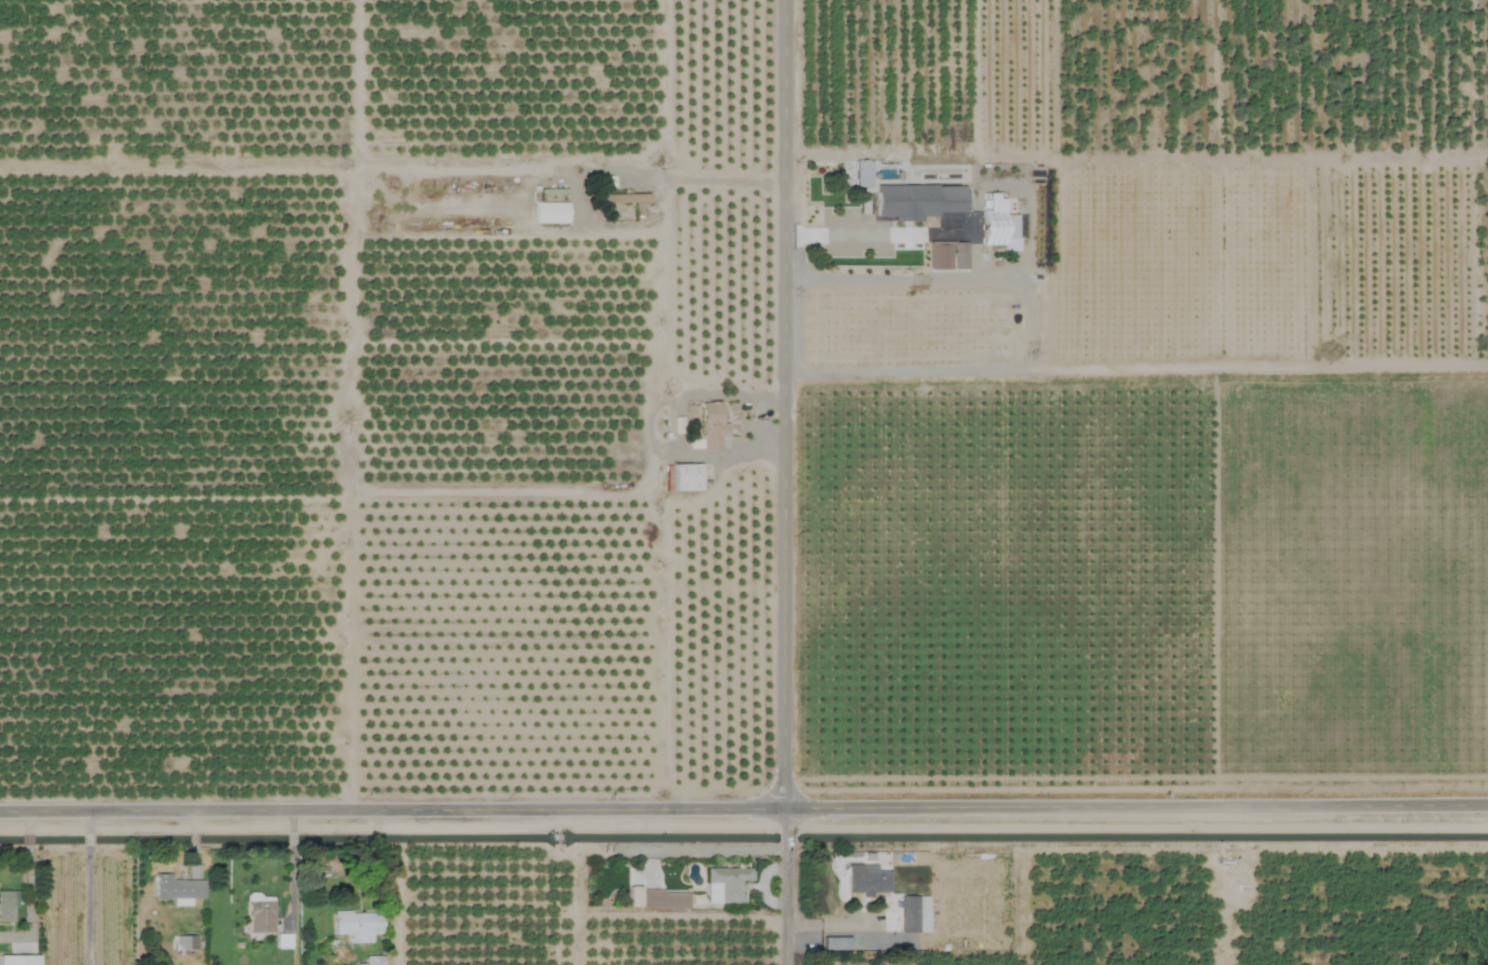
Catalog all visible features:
building: (860, 174)
road: (668, 180)
building: (624, 197)
building: (915, 201)
building: (990, 227)
road: (868, 230)
building: (946, 255)
road: (995, 279)
building: (709, 426)
building: (684, 478)
road: (782, 482)
road: (743, 807)
road: (289, 821)
road: (84, 822)
road: (84, 839)
road: (290, 840)
building: (866, 879)
building: (727, 883)
building: (175, 887)
road: (291, 892)
building: (662, 898)
building: (5, 904)
road: (84, 905)
building: (912, 914)
building: (259, 916)
building: (356, 925)
building: (17, 959)
building: (367, 963)

